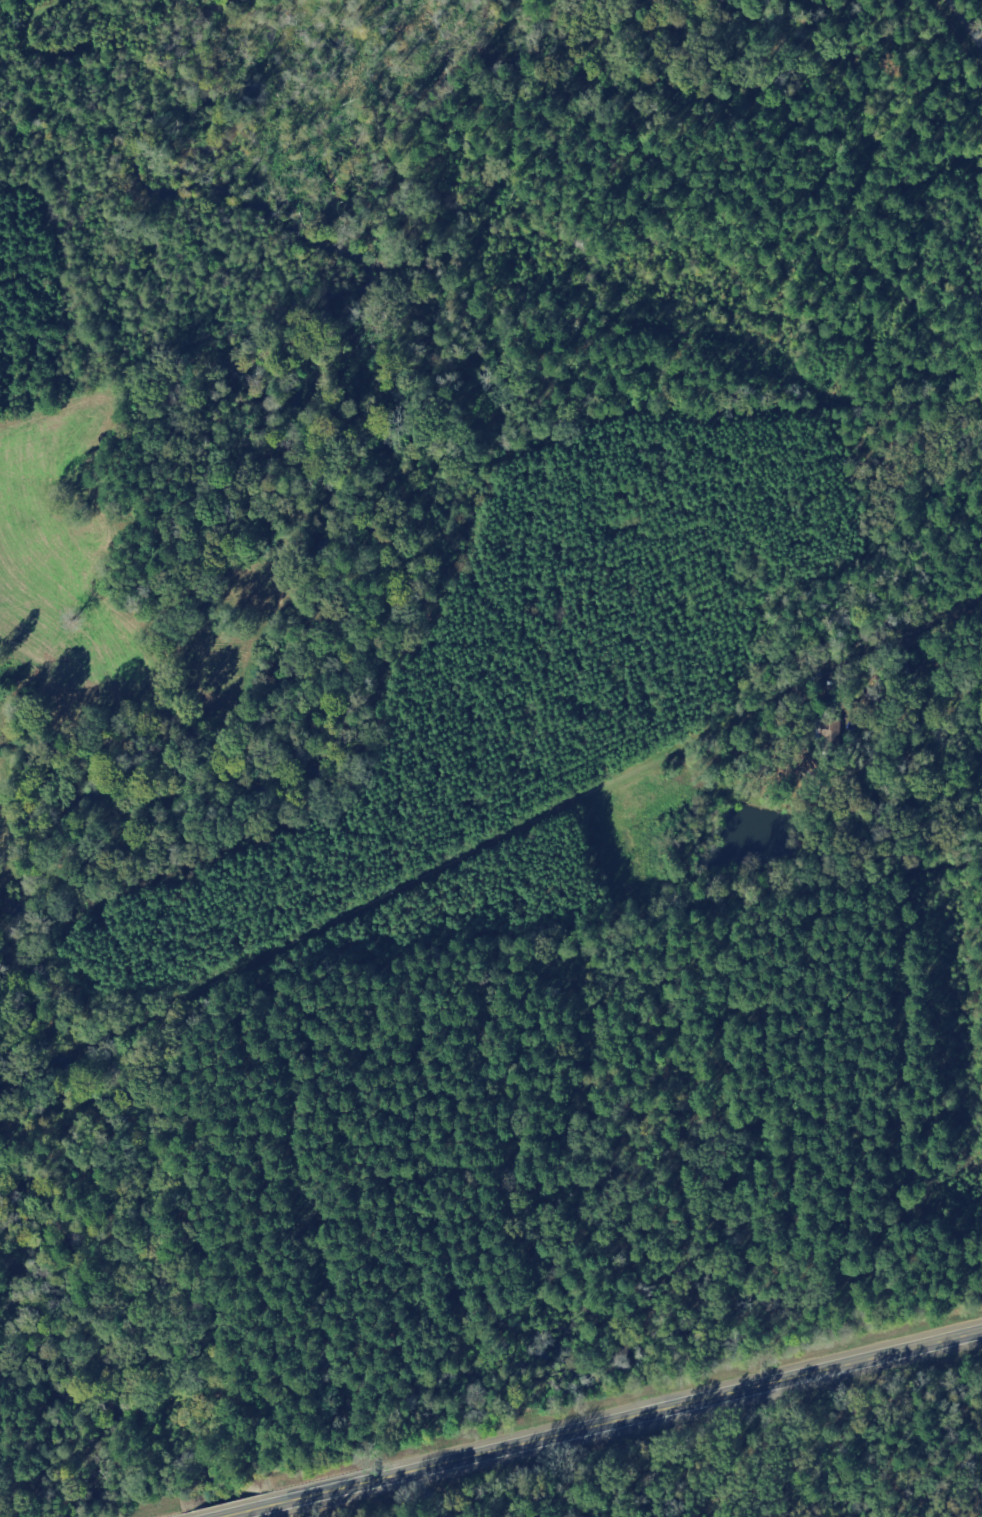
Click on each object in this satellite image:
road: (763, 1)
road: (545, 103)
road: (683, 389)
road: (937, 796)
road: (714, 1343)
road: (592, 1418)

